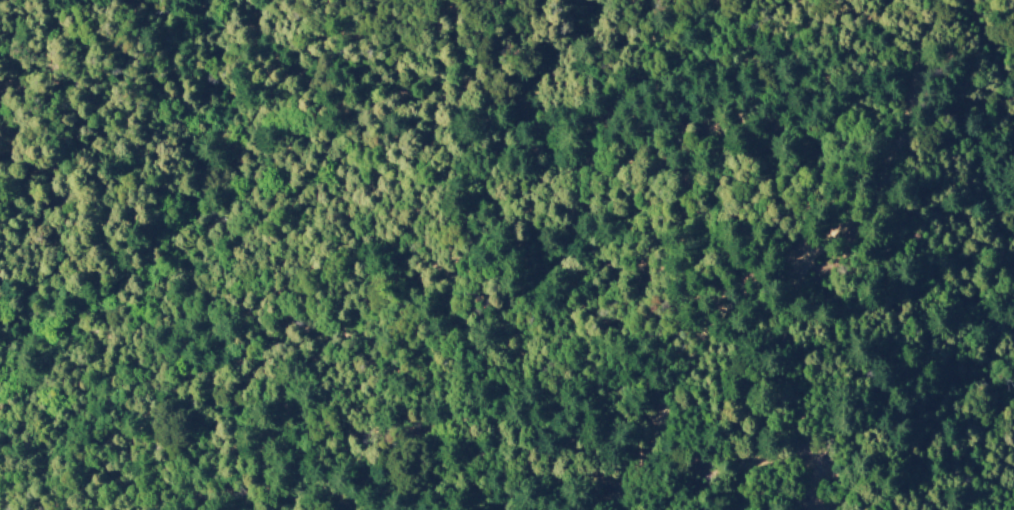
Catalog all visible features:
road: (800, 267)
road: (767, 390)

